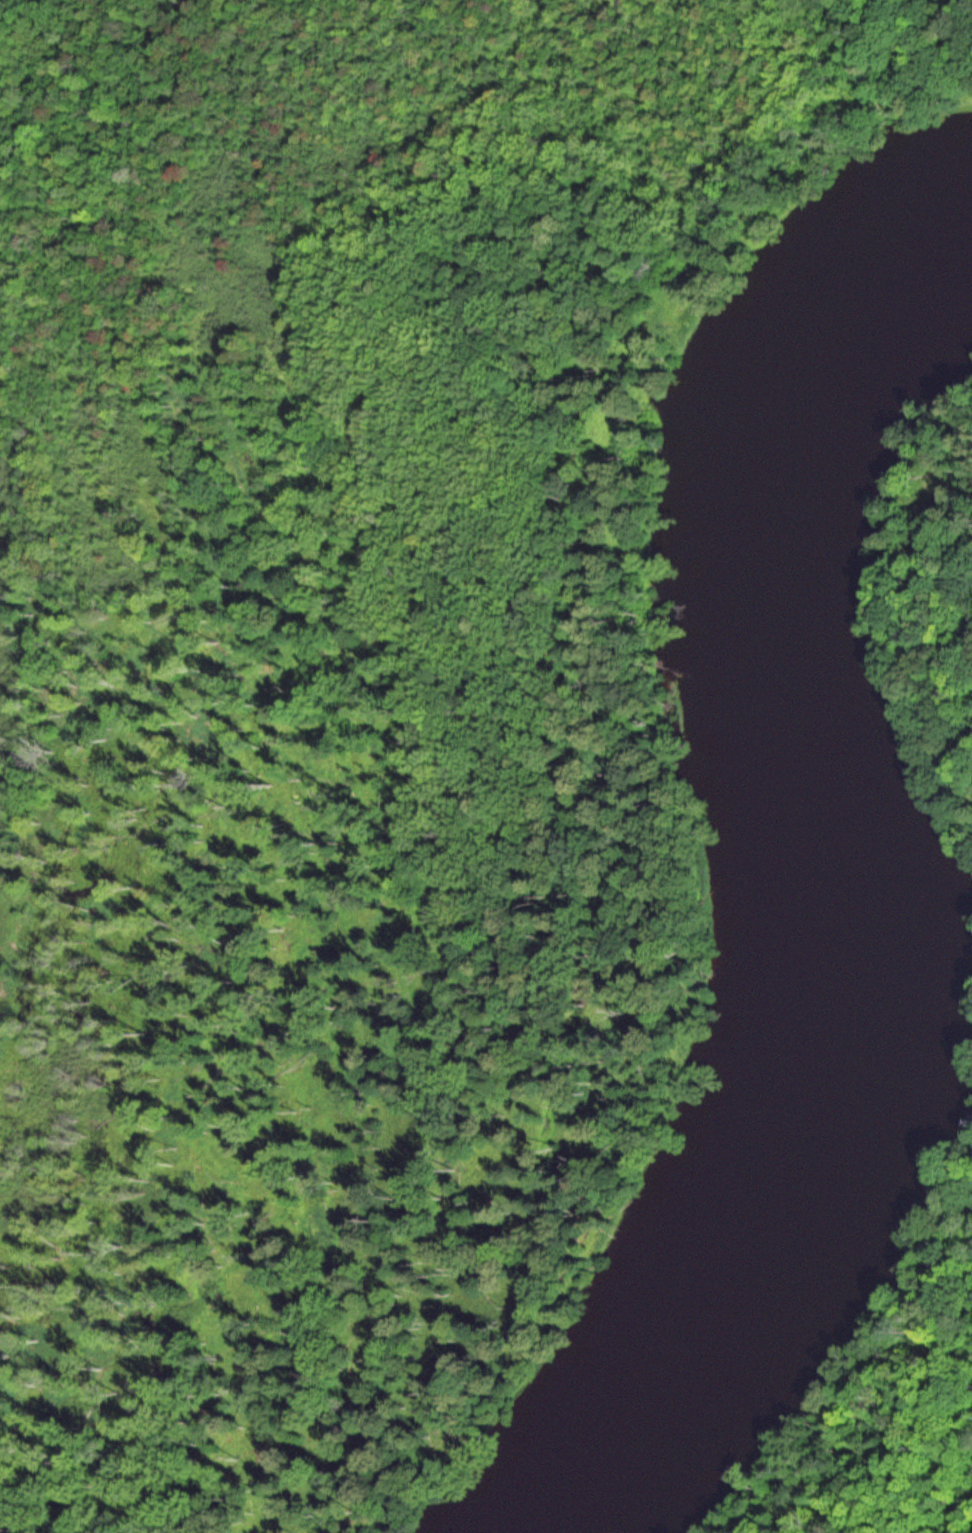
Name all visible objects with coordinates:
river: (826, 880)

